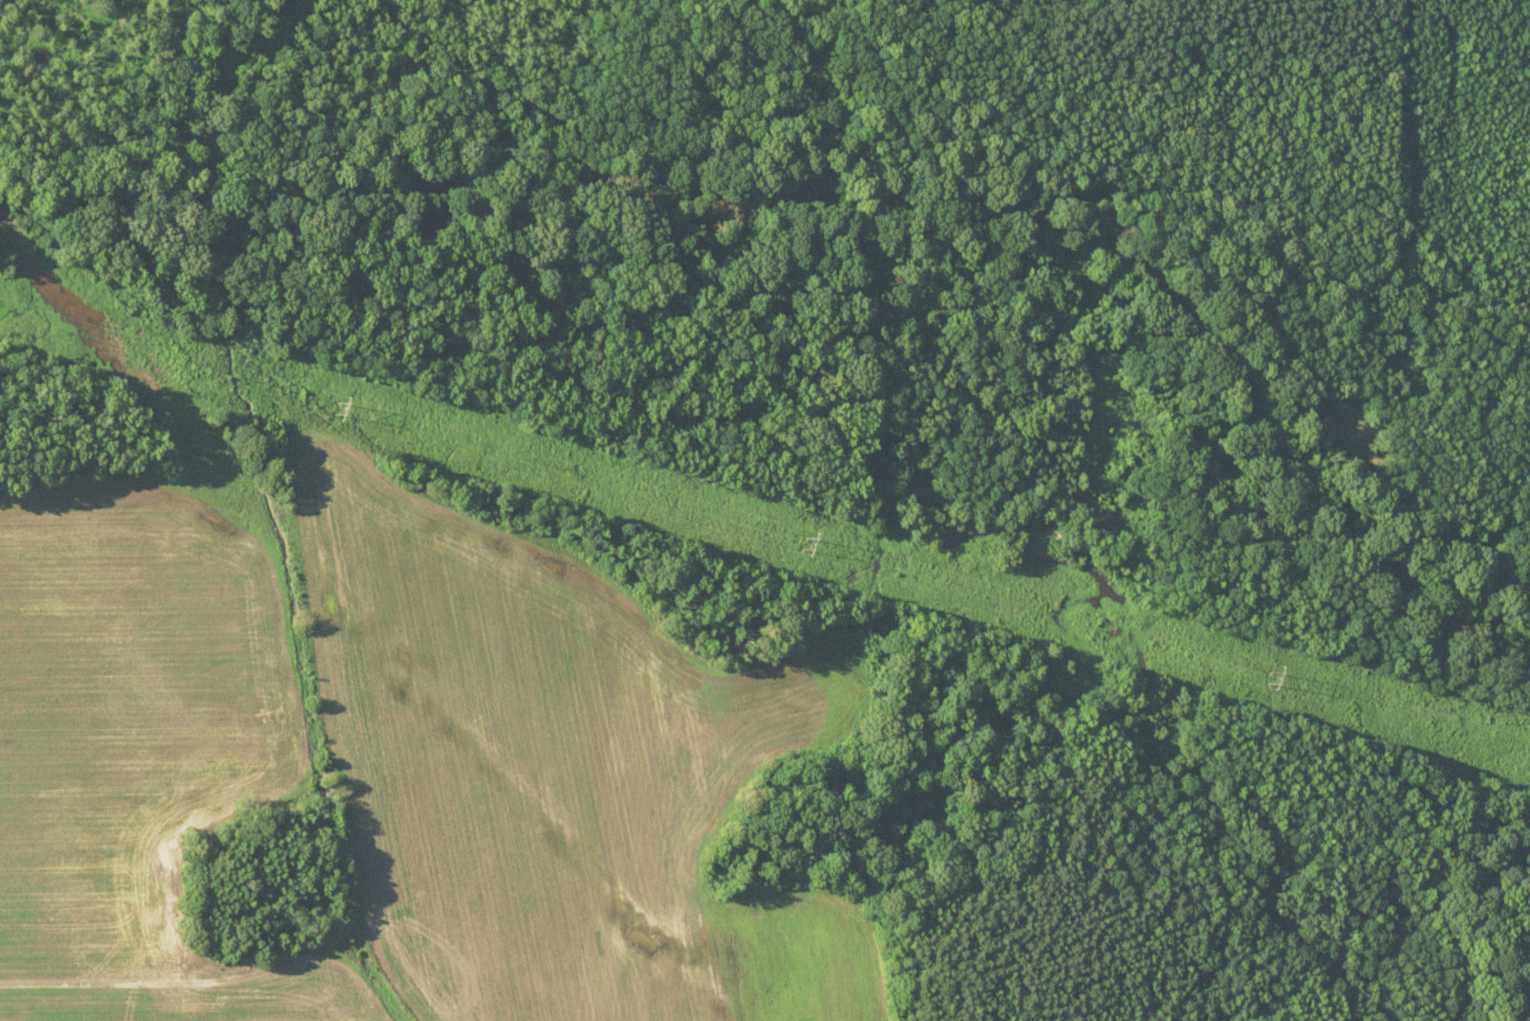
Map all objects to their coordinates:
power tower: (327, 409)
power tower: (795, 540)
power tower: (1264, 676)

